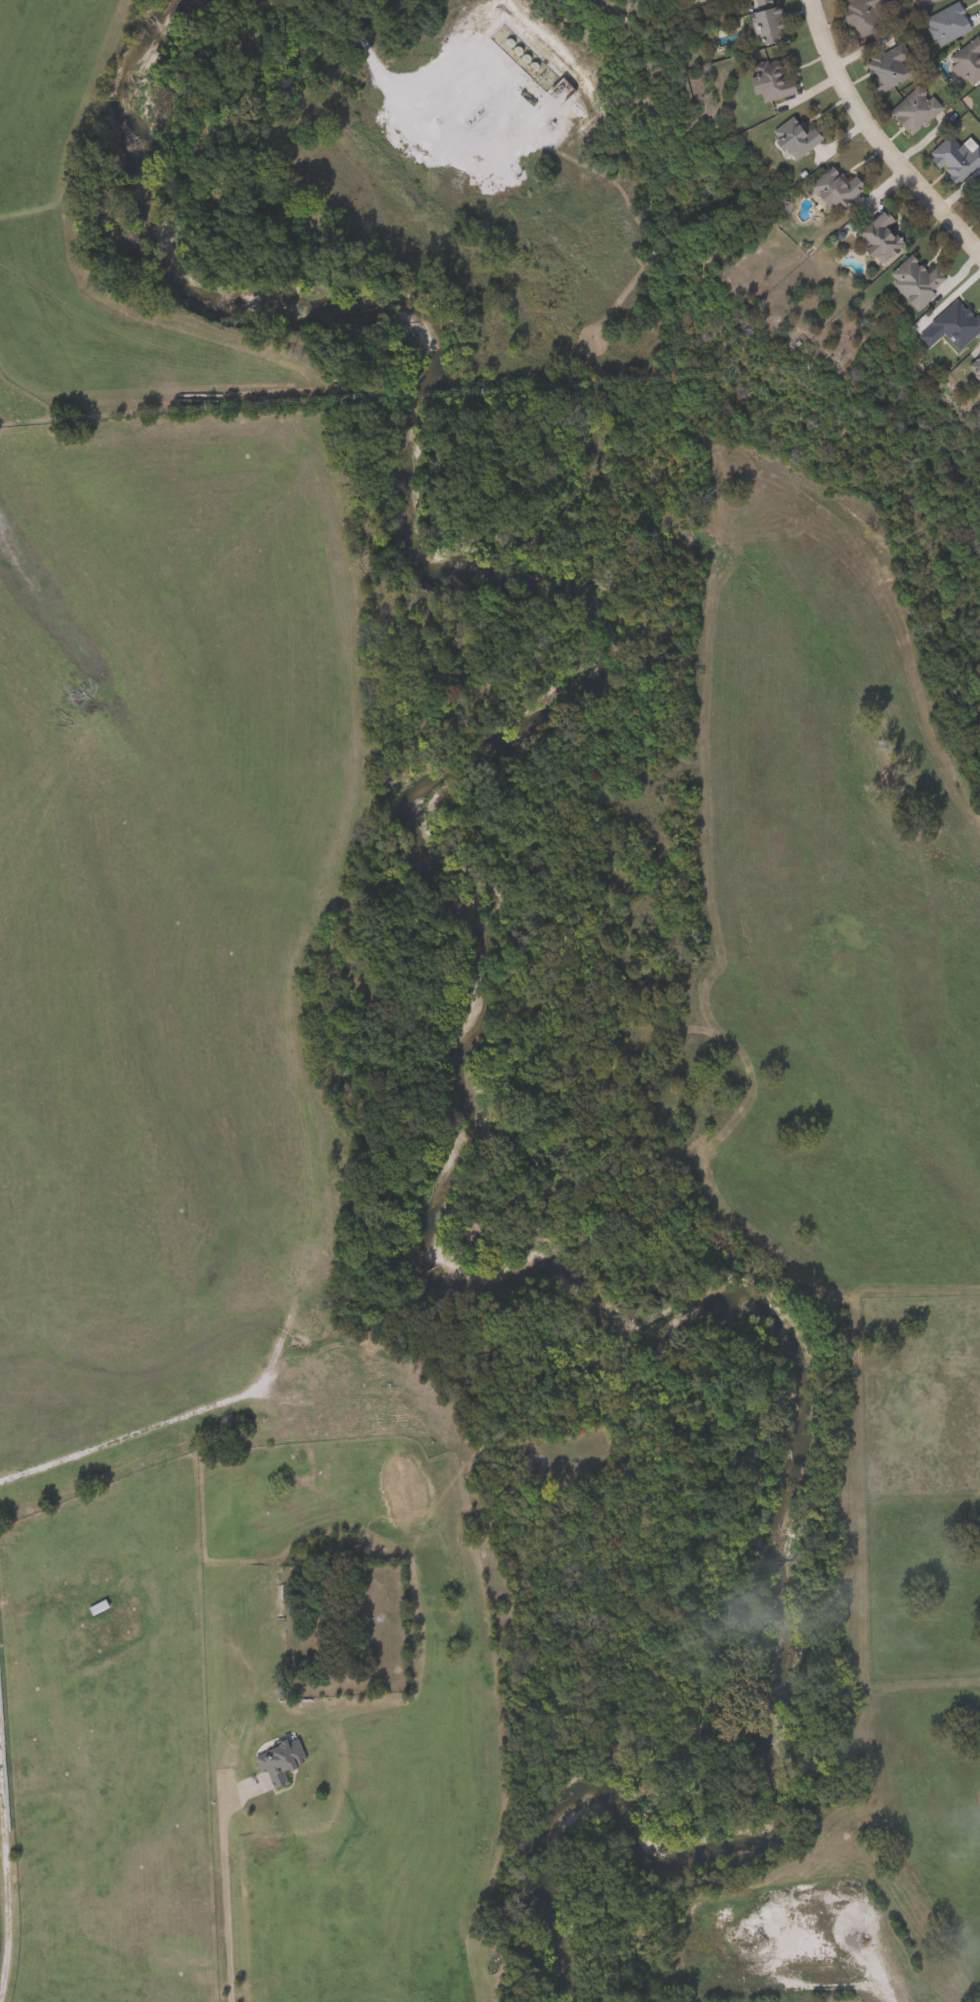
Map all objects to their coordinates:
building: (917, 2)
building: (860, 16)
building: (759, 20)
building: (941, 22)
building: (962, 61)
road: (373, 66)
building: (761, 80)
building: (978, 83)
building: (907, 108)
building: (789, 136)
road: (876, 140)
building: (950, 158)
building: (825, 189)
building: (974, 202)
building: (872, 235)
building: (908, 281)
building: (942, 326)
building: (971, 372)
river: (451, 1077)
building: (97, 1607)
building: (279, 1761)
road: (222, 1900)
building: (698, 1941)

